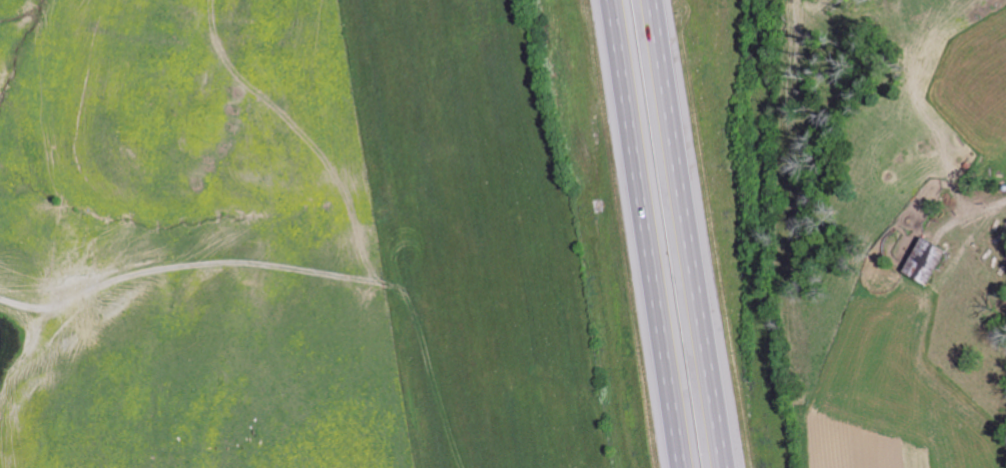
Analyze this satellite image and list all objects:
road: (971, 212)
road: (648, 233)
road: (689, 233)
building: (919, 261)

